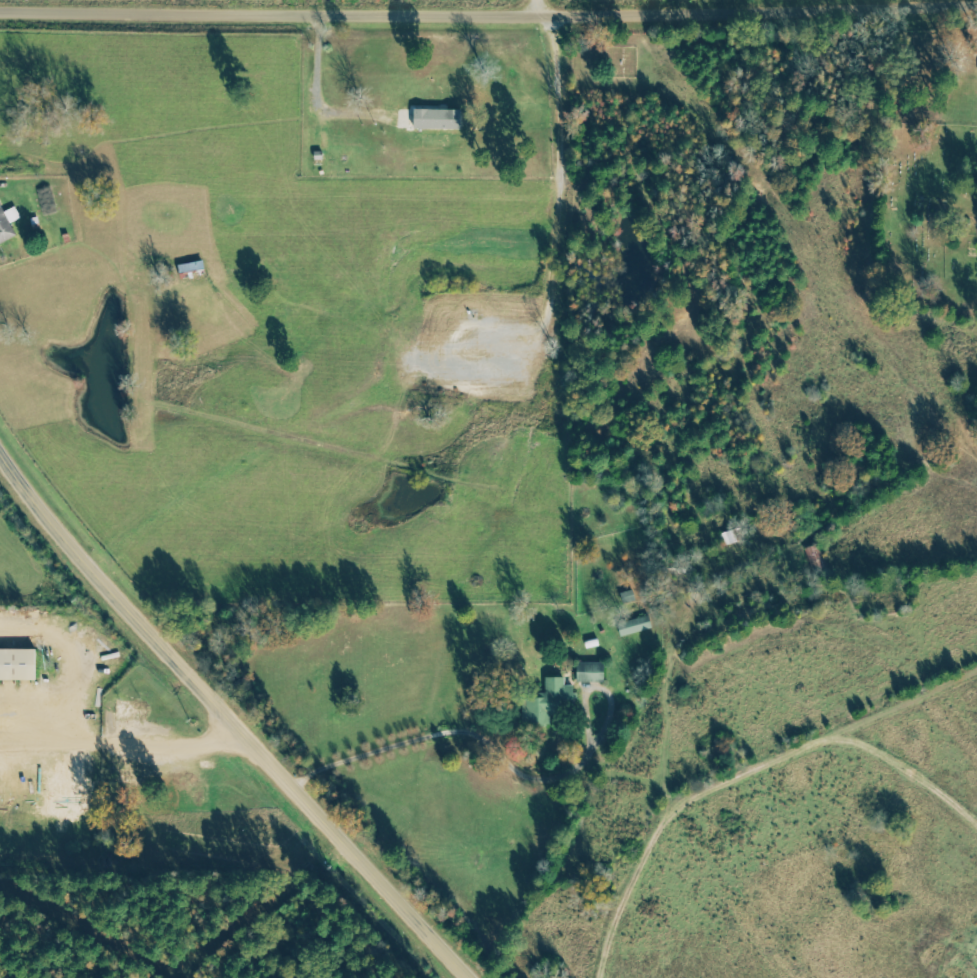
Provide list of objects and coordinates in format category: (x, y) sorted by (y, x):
road: (538, 3)
road: (488, 6)
building: (435, 118)
park: (927, 220)
building: (7, 223)
building: (633, 626)
building: (16, 665)
building: (589, 672)
building: (547, 702)
building: (129, 710)
road: (229, 719)
road: (126, 733)
road: (514, 770)
building: (132, 775)

